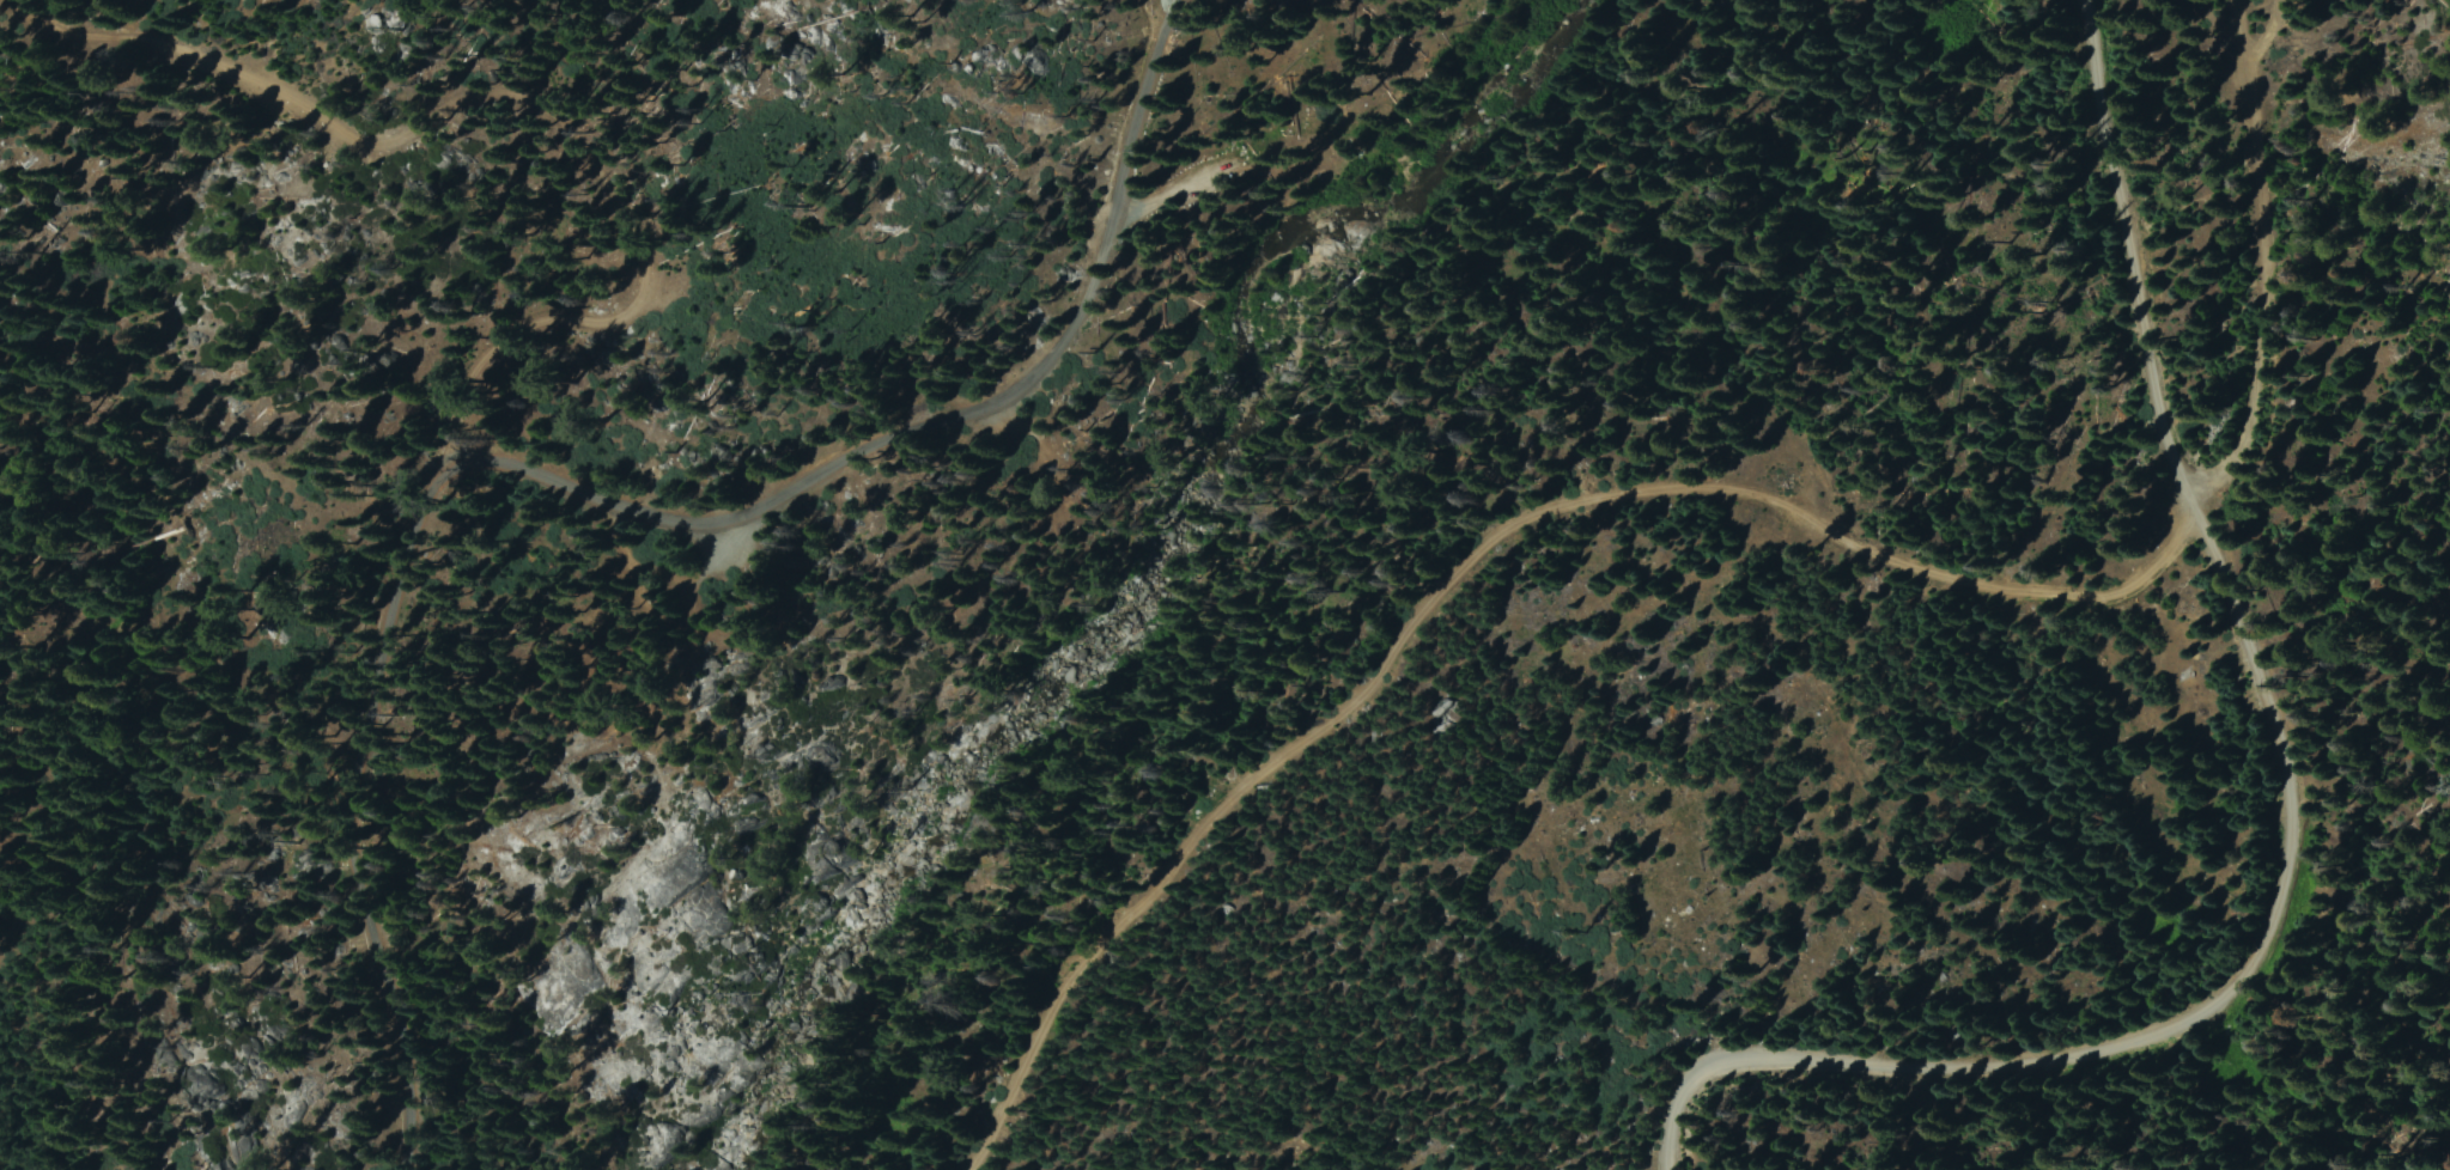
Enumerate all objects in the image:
road: (506, 91)
road: (2126, 262)
road: (2268, 268)
road: (592, 495)
road: (1477, 565)
road: (2157, 1032)

